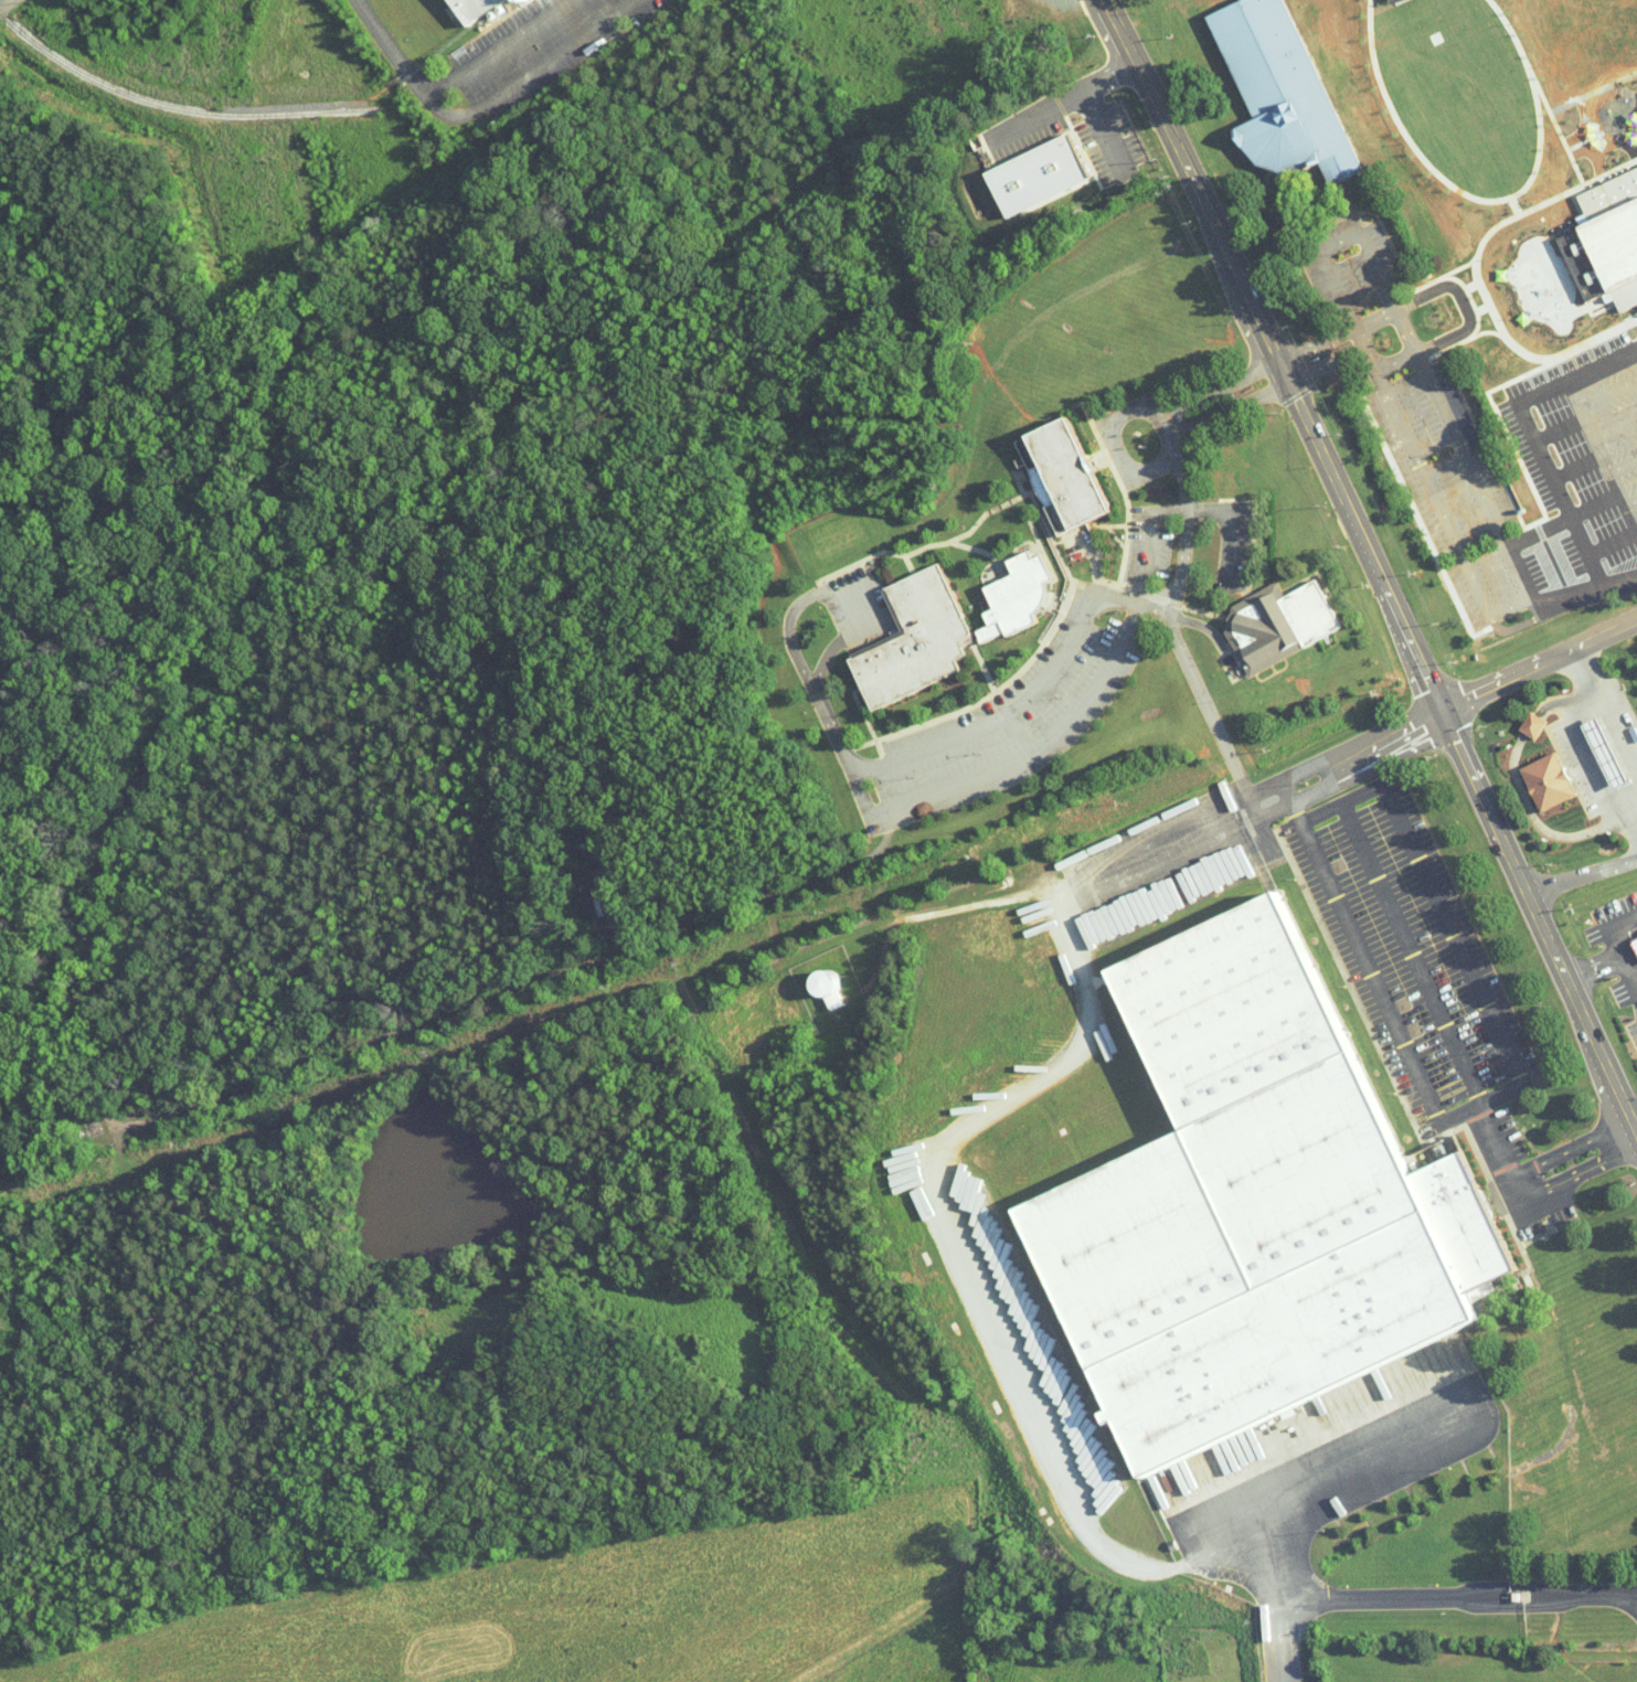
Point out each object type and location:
road: (9, 6)
building: (466, 8)
building: (449, 13)
building: (1280, 92)
building: (1034, 174)
road: (1338, 239)
building: (1606, 241)
road: (1378, 270)
road: (1335, 292)
road: (1372, 319)
road: (1356, 340)
road: (1315, 347)
road: (1411, 350)
road: (1627, 368)
road: (1634, 376)
road: (1220, 392)
road: (1227, 407)
road: (1453, 422)
road: (1614, 426)
road: (1592, 436)
road: (1410, 447)
road: (1623, 465)
building: (1063, 472)
road: (1617, 505)
road: (1181, 509)
road: (1503, 533)
road: (1619, 545)
road: (1372, 564)
road: (1620, 578)
building: (1011, 598)
road: (1159, 603)
road: (1511, 607)
road: (1546, 611)
building: (1279, 622)
building: (914, 640)
road: (1606, 705)
road: (1443, 709)
traffic signals: (1441, 711)
road: (1213, 720)
building: (1533, 724)
road: (1585, 748)
building: (1606, 750)
road: (972, 778)
building: (1549, 780)
road: (1629, 801)
road: (1582, 874)
building: (608, 892)
road: (1443, 915)
road: (1609, 928)
building: (1635, 943)
road: (1412, 954)
road: (1608, 961)
building: (827, 983)
water tower: (827, 984)
road: (1393, 1022)
road: (1574, 1147)
road: (1582, 1168)
building: (1252, 1206)
road: (1237, 1526)
road: (1322, 1590)
road: (1279, 1626)

